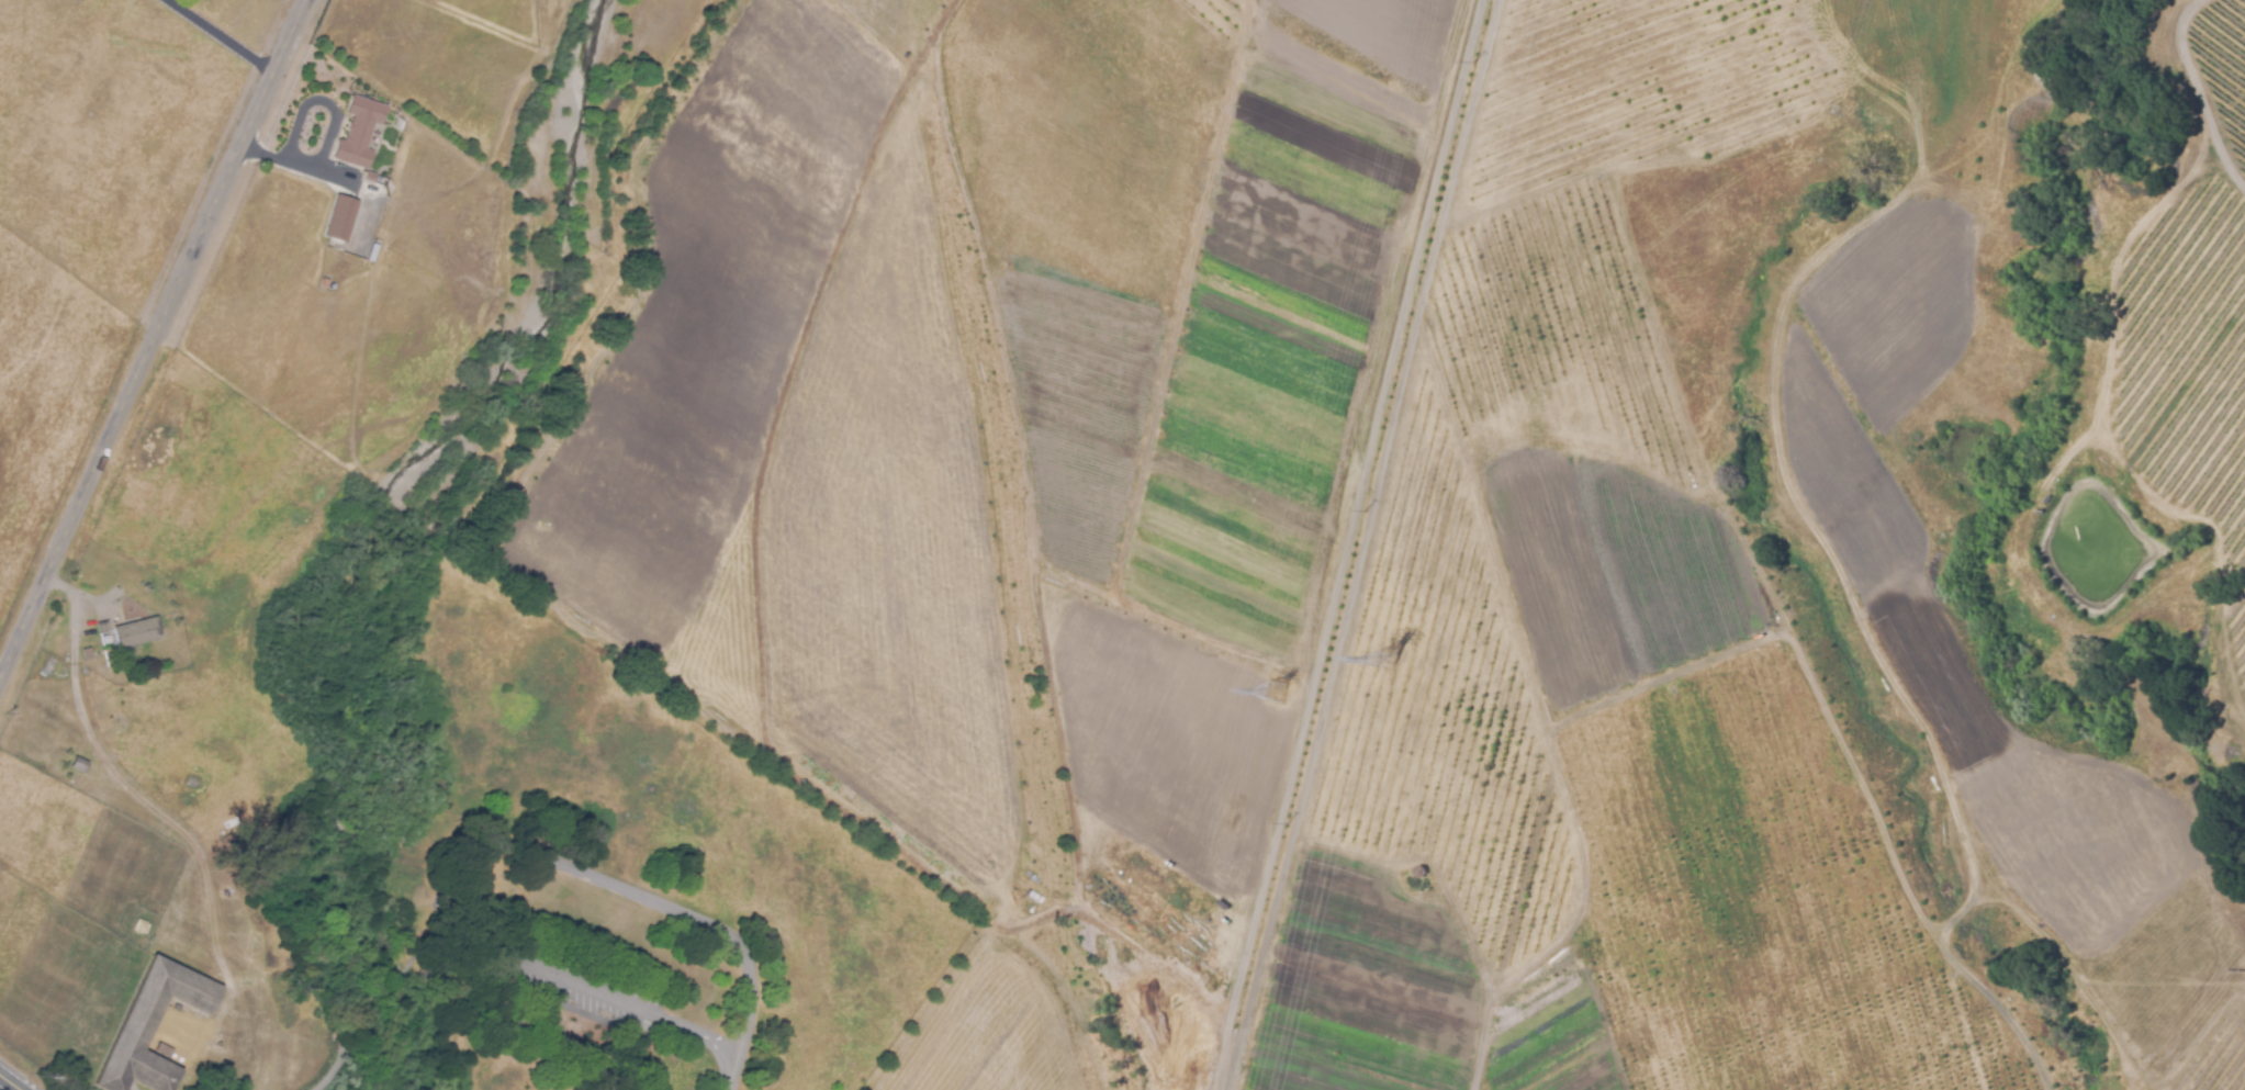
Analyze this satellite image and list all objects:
road: (224, 35)
building: (359, 132)
road: (333, 136)
building: (370, 177)
building: (340, 218)
building: (324, 283)
road: (151, 345)
road: (76, 613)
building: (103, 627)
building: (137, 632)
building: (87, 653)
building: (131, 659)
power tower: (1385, 662)
power tower: (1273, 692)
building: (78, 764)
park: (406, 823)
road: (191, 839)
road: (499, 851)
building: (139, 925)
road: (392, 1010)
building: (146, 1026)
road: (729, 1075)
road: (10, 1082)
road: (128, 1083)

